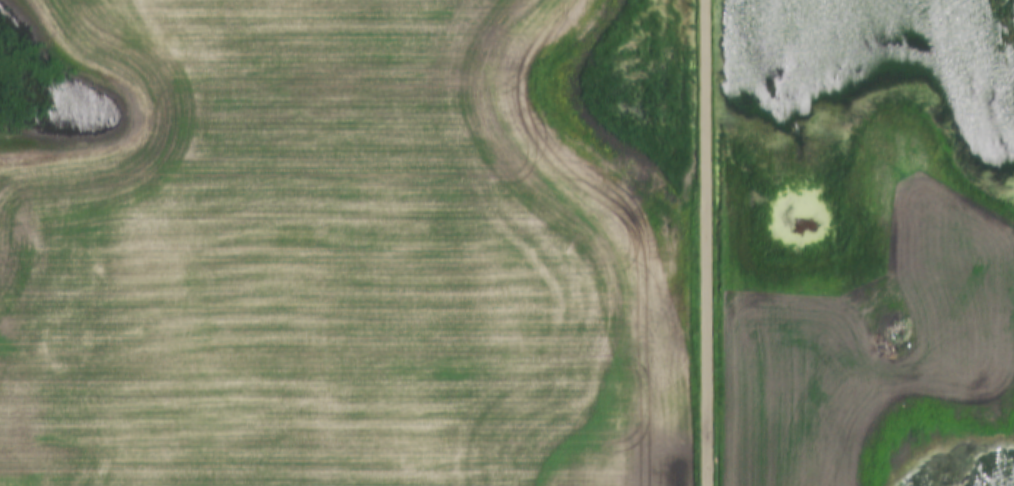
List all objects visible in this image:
road: (706, 242)

